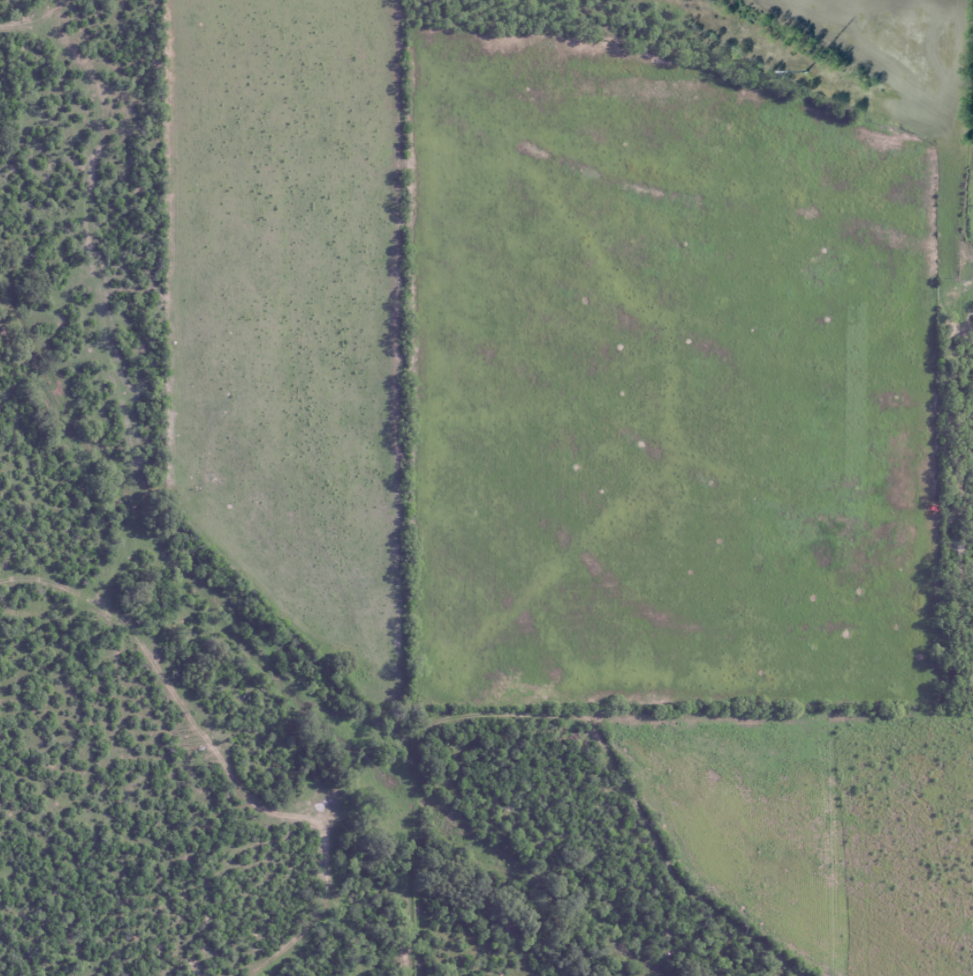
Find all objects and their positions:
power tower: (806, 72)

